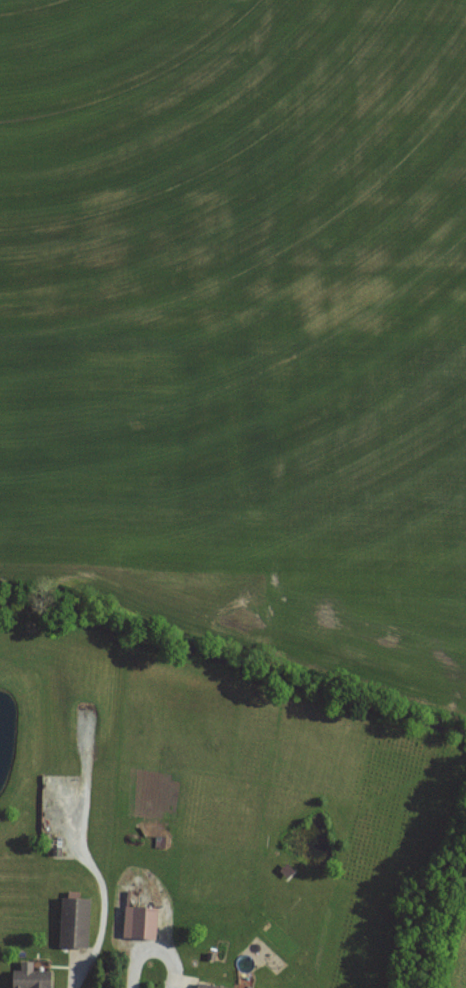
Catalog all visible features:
building: (73, 924)
building: (138, 924)
road: (151, 945)
building: (29, 979)
building: (202, 987)

